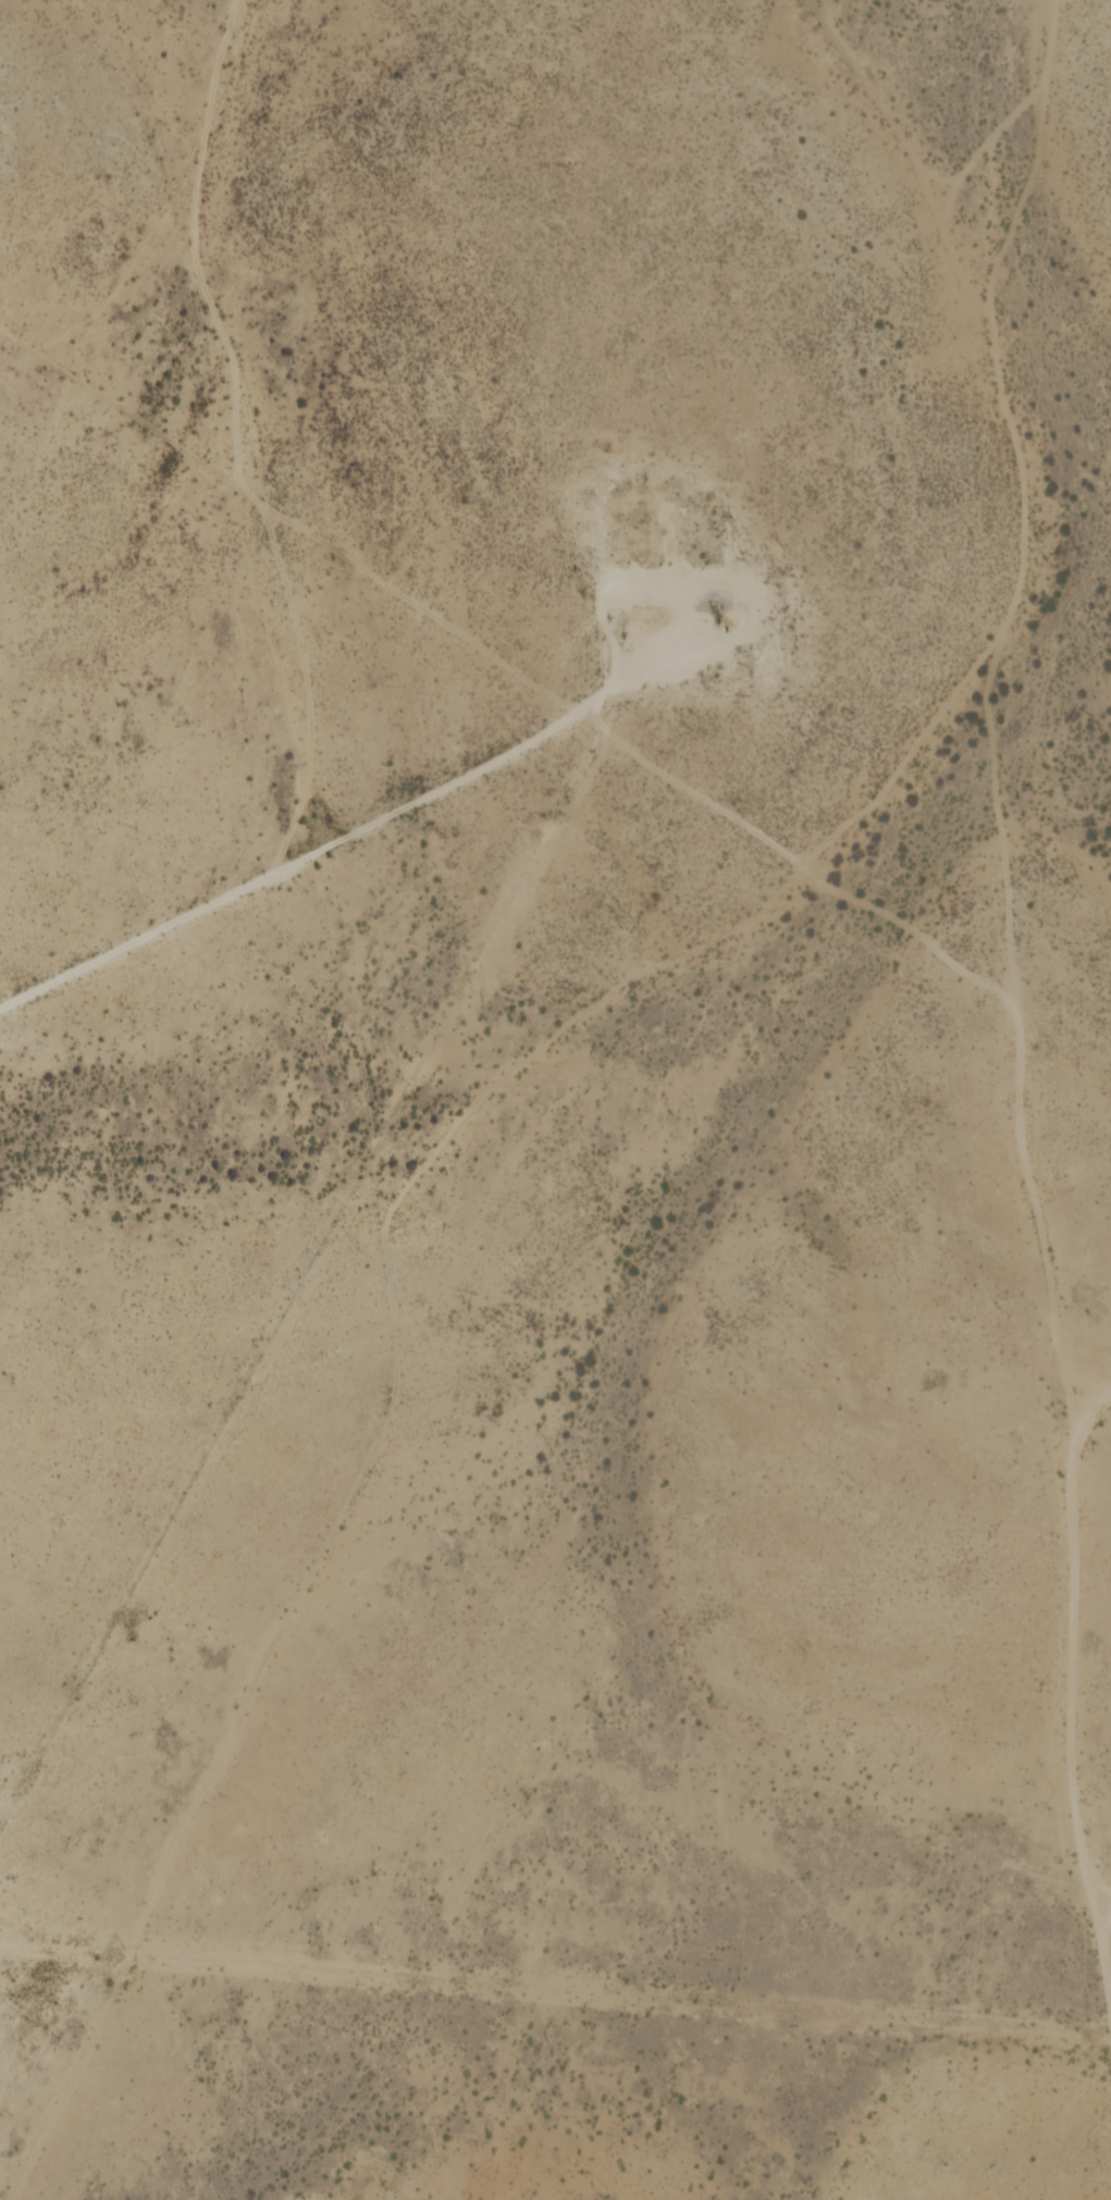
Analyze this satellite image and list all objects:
road: (371, 1130)
road: (1084, 1690)
road: (1104, 1931)

